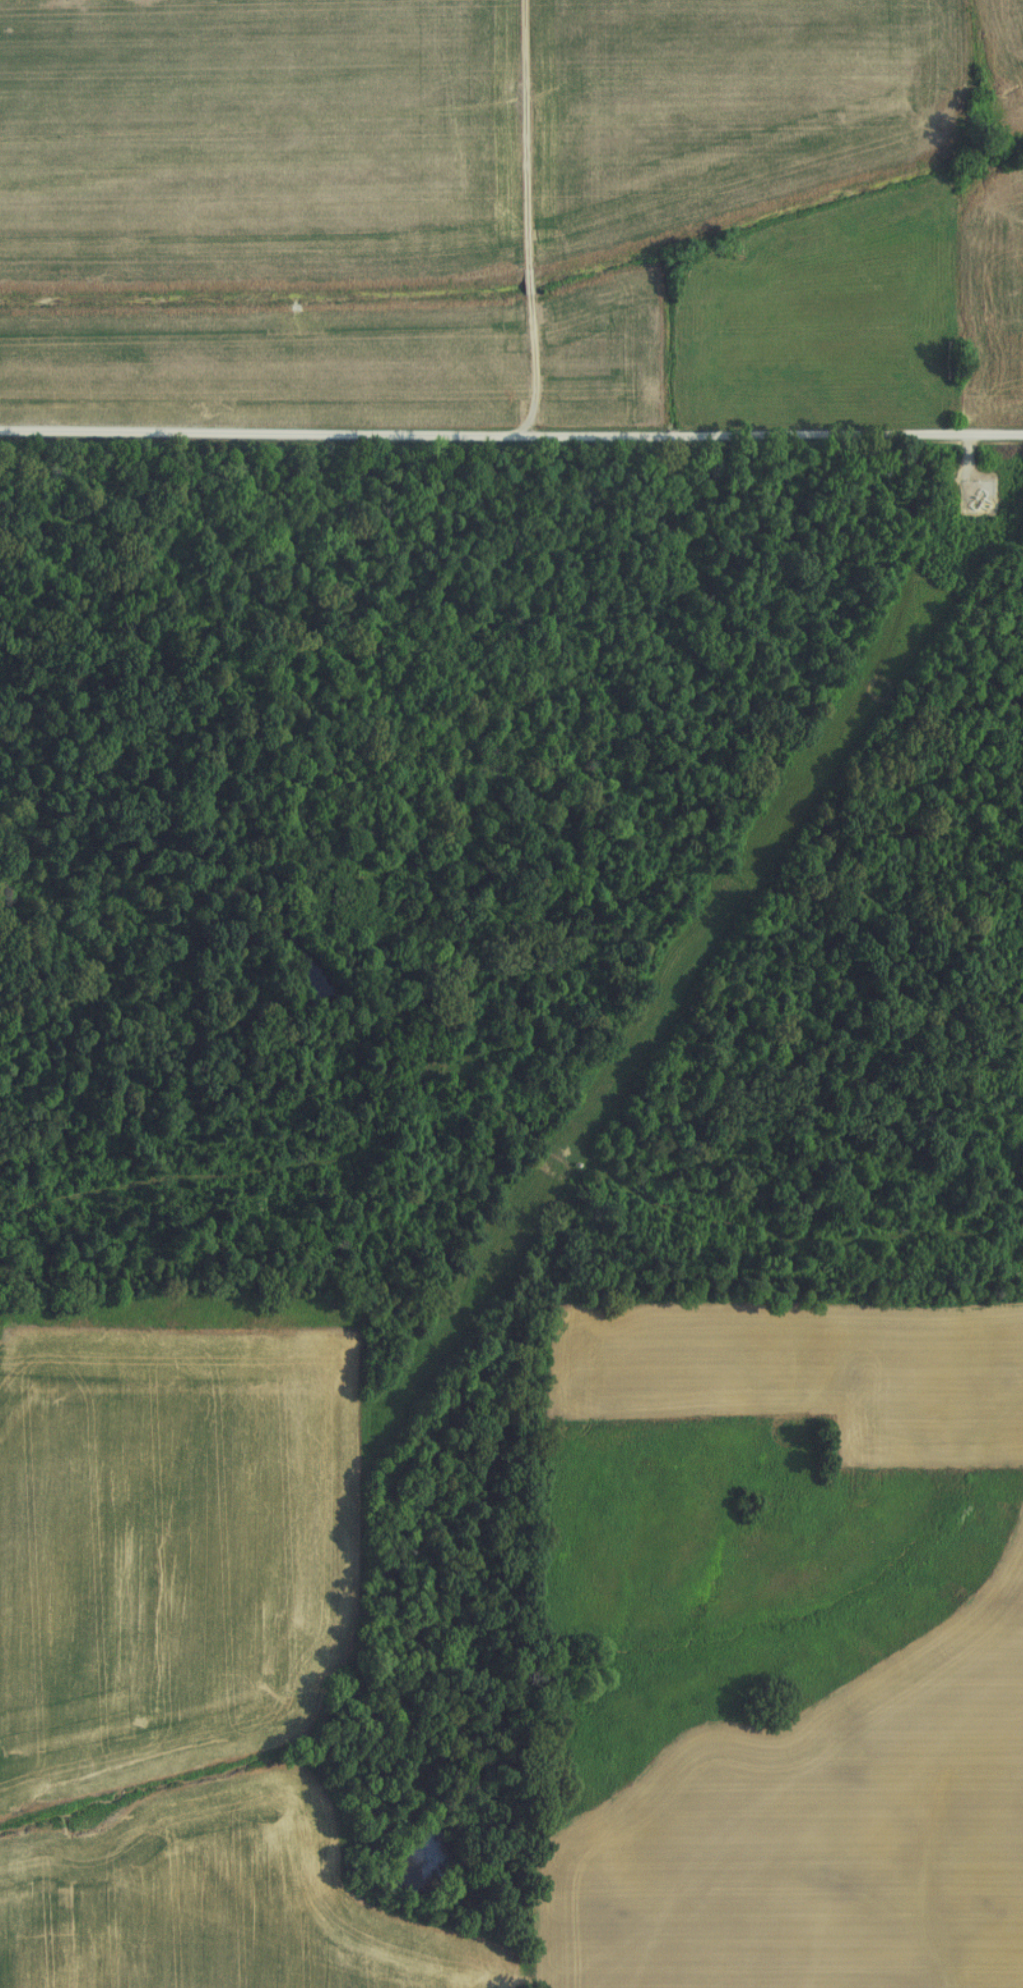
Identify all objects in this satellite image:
road: (527, 218)
road: (511, 435)

